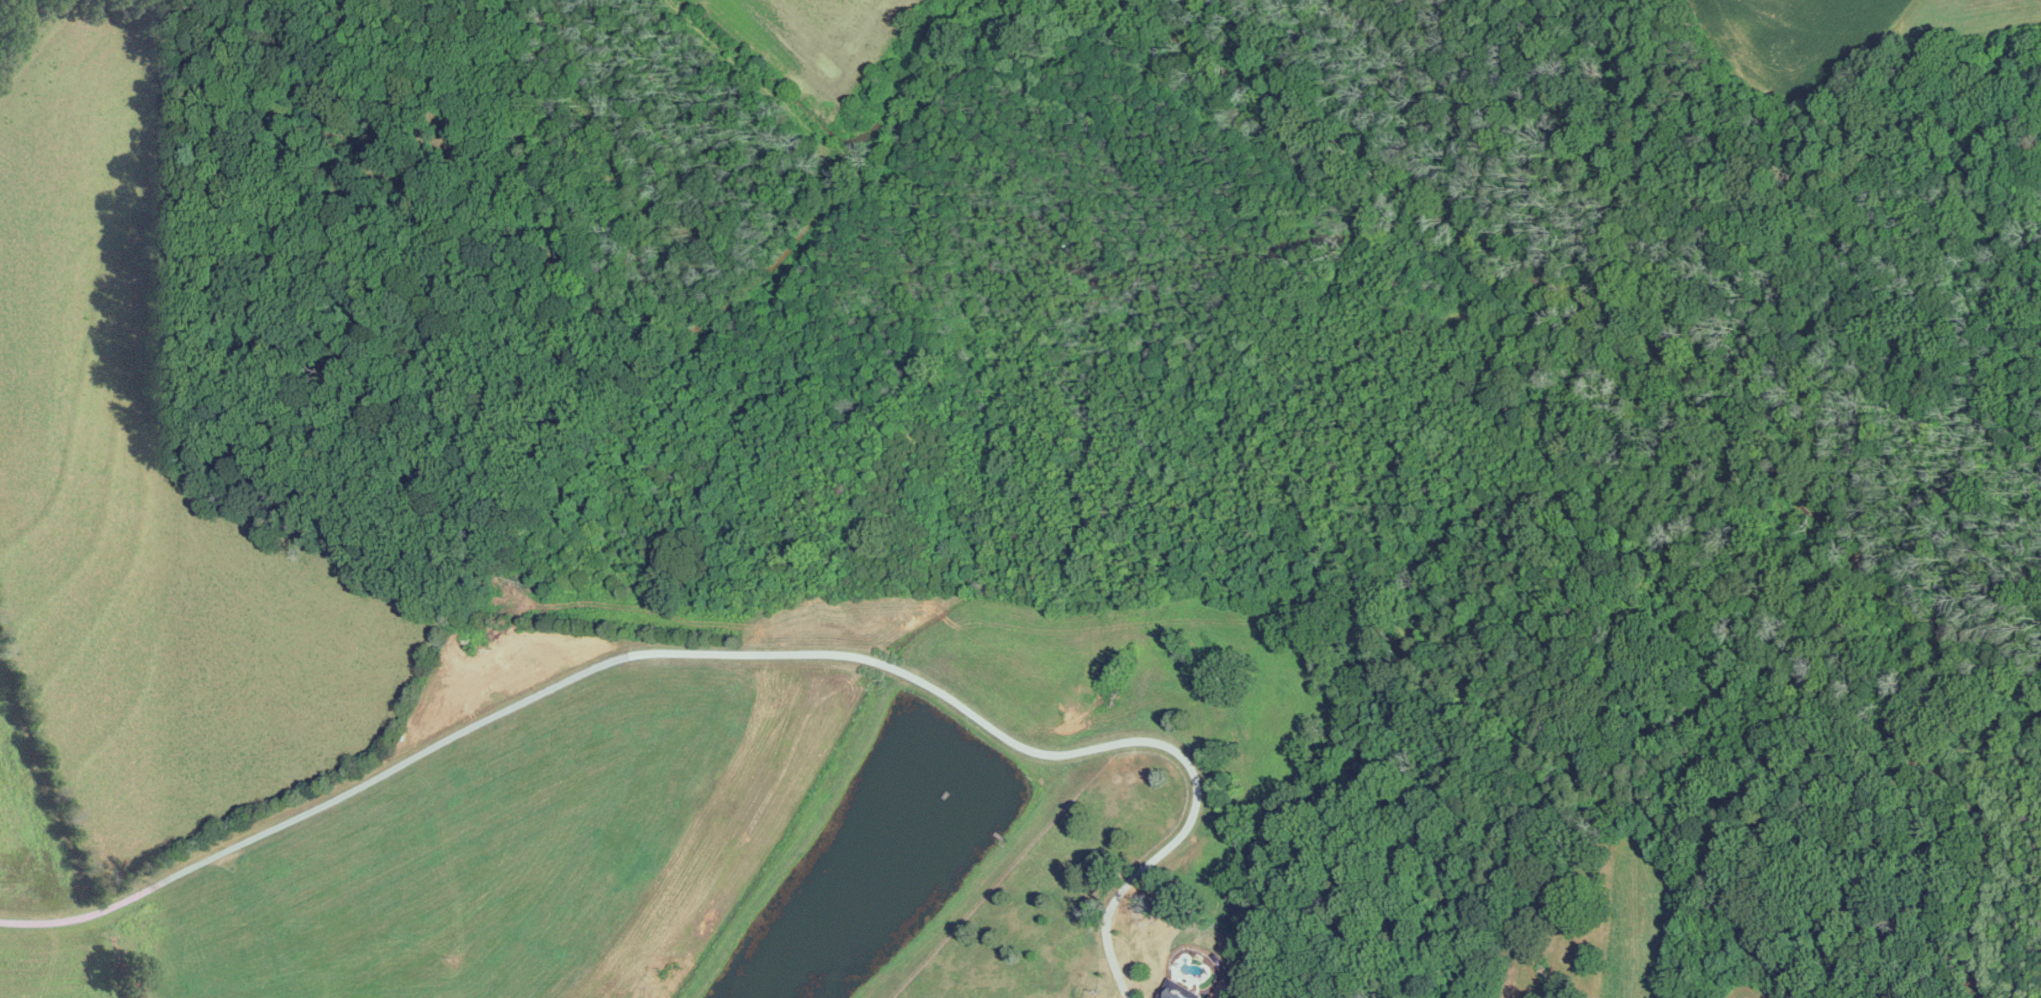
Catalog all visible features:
road: (729, 656)
building: (1171, 993)

